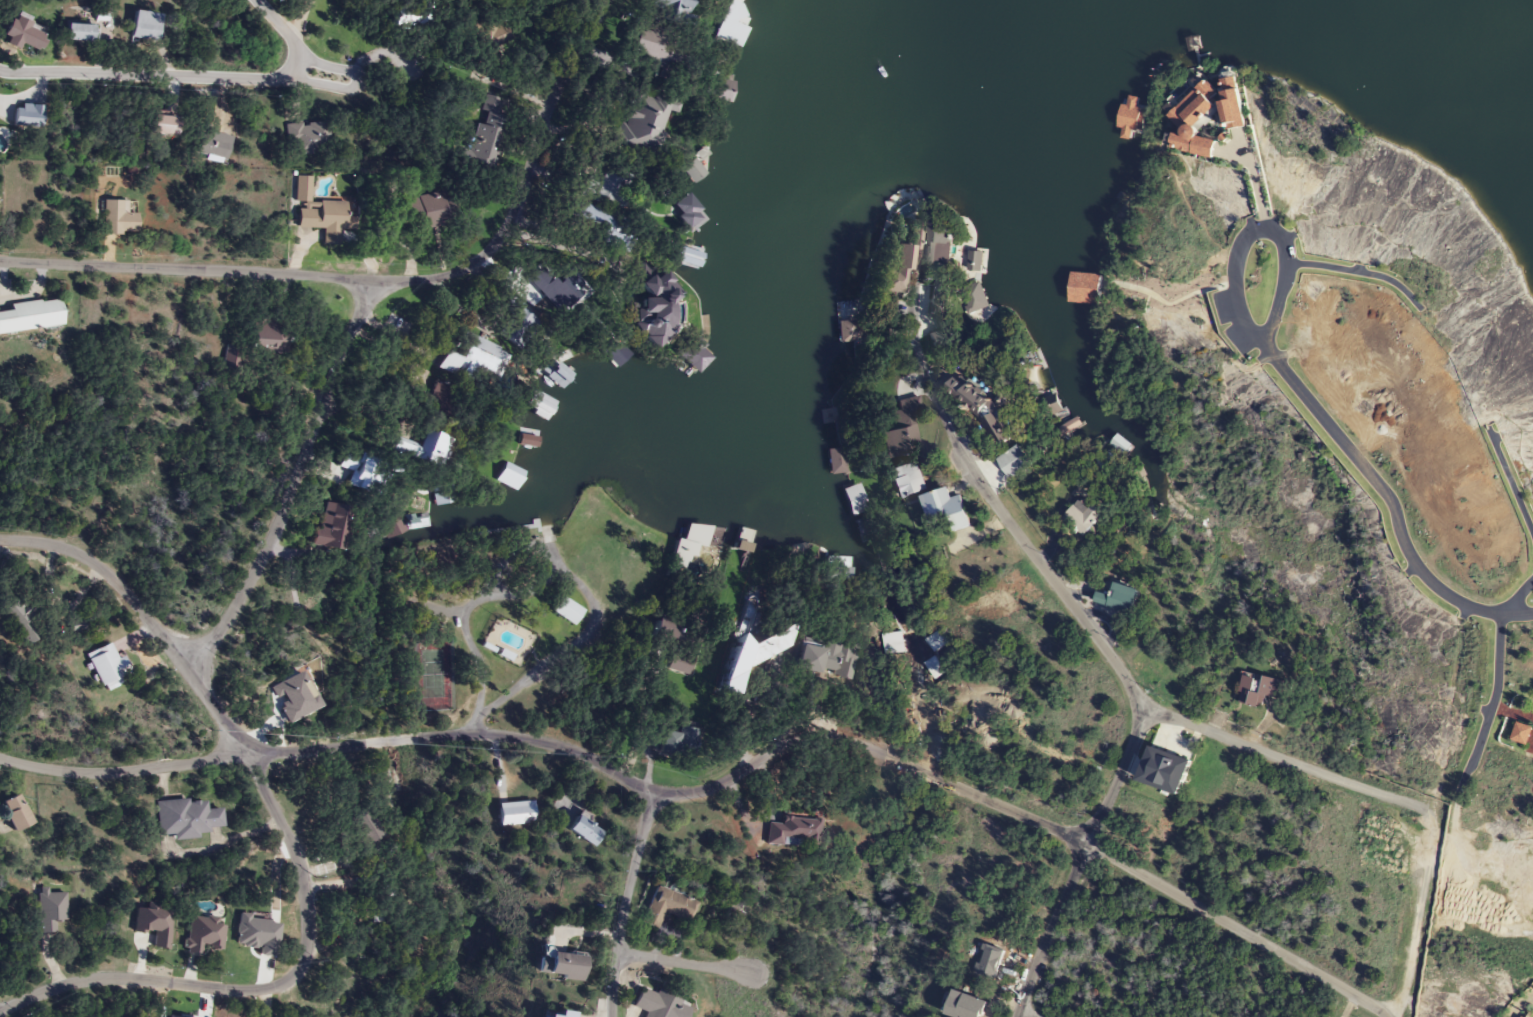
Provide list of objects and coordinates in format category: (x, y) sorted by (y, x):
building: (668, 11)
building: (730, 22)
building: (142, 26)
road: (284, 29)
building: (75, 32)
building: (19, 35)
building: (500, 35)
building: (655, 51)
building: (1198, 52)
road: (149, 73)
road: (332, 74)
building: (719, 84)
building: (27, 116)
building: (1200, 119)
building: (642, 120)
building: (1129, 124)
building: (161, 125)
building: (306, 138)
building: (210, 145)
building: (484, 148)
building: (691, 168)
road: (521, 185)
building: (608, 187)
building: (900, 208)
building: (688, 211)
building: (318, 212)
building: (423, 212)
building: (116, 218)
road: (1260, 229)
building: (611, 242)
building: (688, 255)
building: (939, 259)
building: (909, 260)
building: (975, 267)
road: (185, 268)
road: (1358, 271)
building: (889, 276)
building: (555, 289)
building: (1080, 291)
building: (657, 300)
building: (974, 301)
building: (842, 312)
building: (29, 316)
building: (515, 326)
building: (266, 335)
building: (845, 335)
building: (615, 351)
building: (696, 356)
building: (231, 357)
building: (472, 358)
building: (557, 374)
building: (535, 403)
building: (828, 419)
building: (898, 429)
building: (1068, 431)
building: (527, 435)
building: (420, 449)
building: (1117, 449)
building: (1011, 463)
building: (835, 466)
building: (355, 472)
building: (508, 473)
building: (905, 480)
road: (1510, 481)
road: (292, 482)
road: (1392, 499)
building: (853, 502)
building: (944, 509)
building: (1080, 520)
building: (393, 526)
building: (866, 527)
building: (329, 528)
building: (704, 538)
building: (798, 542)
building: (744, 546)
road: (111, 578)
road: (581, 587)
building: (1117, 598)
building: (567, 611)
building: (23, 621)
building: (668, 629)
road: (1102, 644)
building: (750, 657)
building: (813, 658)
building: (679, 663)
building: (105, 666)
road: (1496, 670)
building: (1259, 690)
road: (217, 716)
road: (478, 725)
building: (676, 741)
road: (1287, 759)
road: (724, 781)
building: (13, 812)
building: (514, 813)
building: (186, 817)
building: (361, 824)
building: (583, 830)
building: (793, 832)
road: (625, 903)
building: (664, 906)
building: (49, 909)
road: (1417, 918)
building: (152, 922)
building: (203, 934)
road: (682, 962)
building: (563, 965)
road: (260, 989)
building: (658, 1004)
building: (962, 1005)
road: (1529, 1010)
road: (1025, 1013)
building: (556, 1015)

